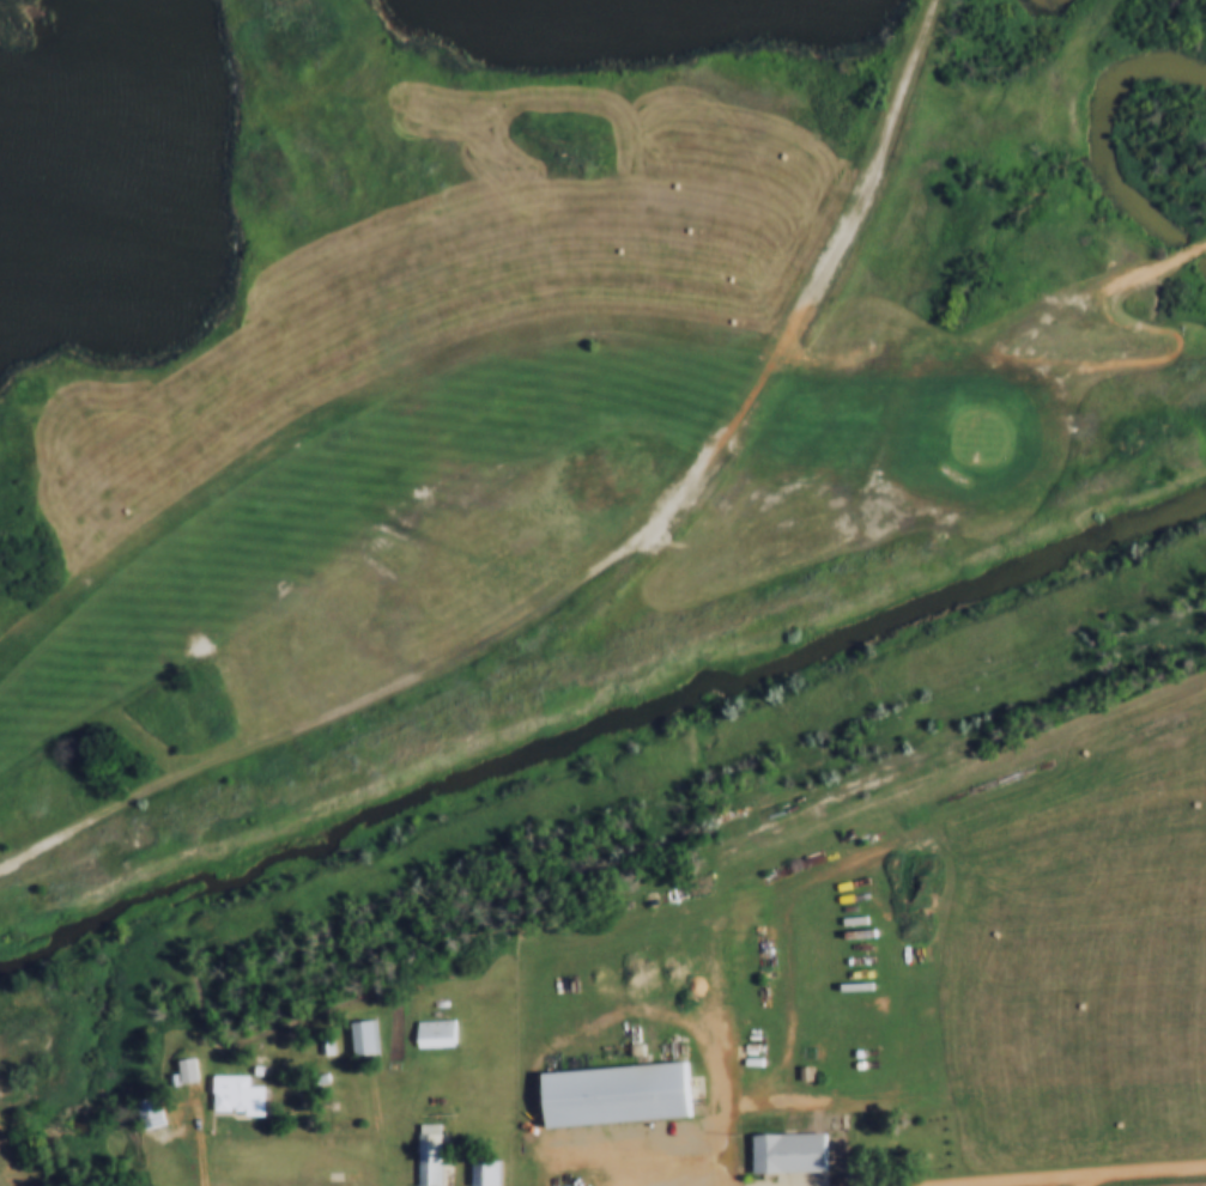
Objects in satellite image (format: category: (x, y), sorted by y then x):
park: (535, 352)
road: (599, 565)
building: (426, 1030)
building: (357, 1036)
building: (317, 1044)
building: (249, 1068)
building: (178, 1069)
building: (189, 1069)
building: (230, 1094)
building: (610, 1095)
road: (188, 1100)
building: (141, 1112)
building: (782, 1151)
building: (422, 1155)
building: (478, 1173)
road: (1056, 1173)
road: (1063, 1179)
road: (207, 1180)

